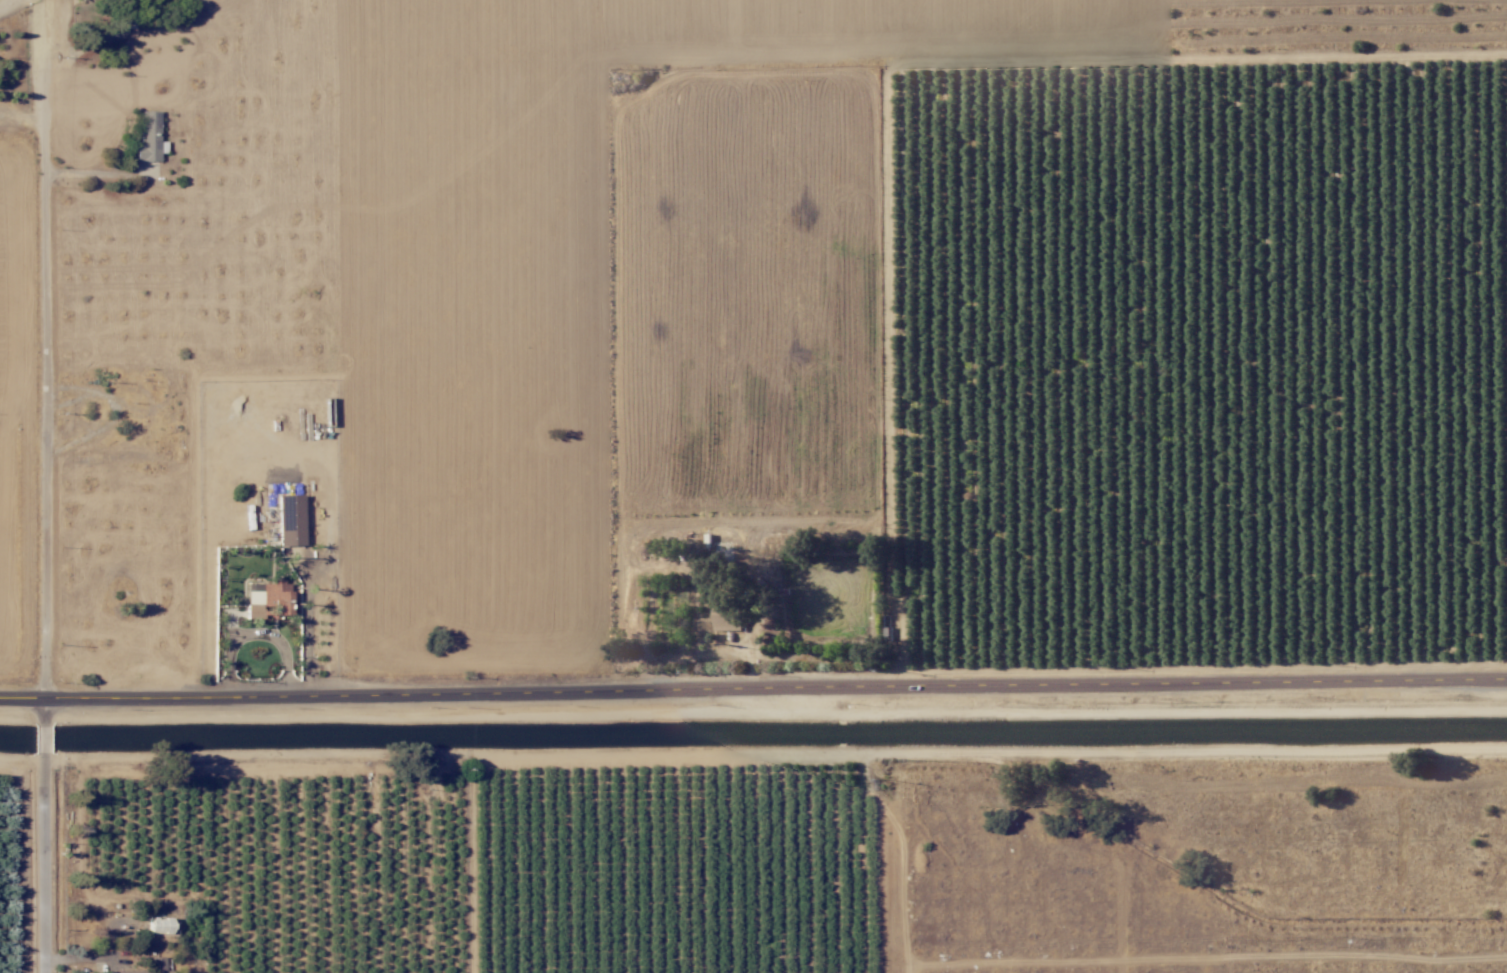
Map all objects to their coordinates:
road: (70, 50)
building: (148, 137)
road: (85, 183)
road: (38, 349)
building: (289, 520)
building: (266, 599)
building: (728, 619)
road: (753, 690)
road: (43, 836)
building: (157, 925)
building: (150, 967)

